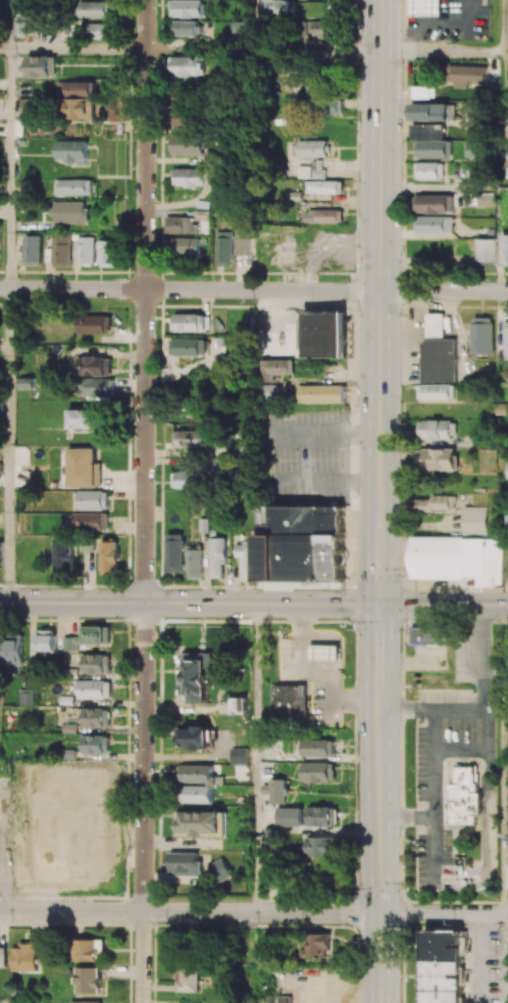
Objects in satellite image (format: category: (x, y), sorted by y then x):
building: (277, 7)
building: (191, 8)
building: (427, 8)
building: (96, 9)
building: (21, 20)
road: (10, 24)
road: (257, 26)
road: (502, 26)
building: (186, 28)
building: (99, 30)
building: (324, 31)
road: (5, 49)
road: (78, 49)
road: (202, 51)
road: (319, 52)
road: (505, 52)
road: (442, 53)
building: (41, 66)
building: (188, 66)
building: (468, 75)
building: (314, 87)
building: (423, 92)
building: (79, 98)
road: (503, 103)
building: (324, 106)
building: (28, 107)
building: (432, 111)
building: (187, 117)
street lamp: (356, 119)
building: (475, 120)
building: (427, 131)
building: (190, 144)
building: (311, 148)
building: (433, 149)
building: (474, 149)
building: (72, 152)
road: (10, 169)
building: (311, 170)
building: (429, 171)
building: (192, 177)
building: (74, 187)
building: (324, 187)
road: (437, 189)
street lamp: (400, 196)
building: (433, 203)
building: (71, 212)
building: (322, 216)
building: (181, 225)
building: (433, 225)
building: (0, 238)
street lamp: (357, 245)
building: (183, 246)
building: (241, 246)
building: (224, 248)
building: (505, 249)
building: (32, 250)
building: (85, 250)
building: (108, 253)
building: (60, 254)
building: (485, 254)
road: (381, 256)
road: (190, 290)
road: (444, 292)
street lamp: (311, 300)
road: (145, 301)
street lamp: (356, 311)
building: (191, 322)
building: (94, 324)
building: (322, 334)
building: (482, 335)
building: (506, 340)
building: (188, 347)
building: (438, 350)
building: (95, 366)
building: (273, 368)
building: (99, 388)
building: (268, 392)
building: (436, 392)
building: (320, 393)
street lamp: (400, 404)
building: (84, 419)
building: (435, 430)
building: (191, 439)
road: (10, 446)
parking lot: (307, 458)
building: (437, 458)
building: (83, 468)
building: (507, 477)
building: (184, 480)
street lamp: (356, 497)
building: (91, 500)
building: (433, 504)
building: (91, 521)
building: (473, 522)
building: (301, 543)
building: (1, 553)
building: (175, 553)
building: (63, 556)
building: (218, 556)
building: (109, 557)
building: (246, 559)
road: (378, 559)
building: (458, 559)
building: (195, 563)
street lamp: (403, 576)
street lamp: (327, 589)
street lamp: (494, 590)
road: (253, 604)
traffic signals: (378, 606)
street lamp: (266, 618)
street lamp: (350, 630)
street lamp: (284, 632)
street lamp: (402, 632)
building: (426, 636)
building: (88, 637)
building: (46, 641)
building: (13, 649)
building: (325, 654)
road: (378, 658)
building: (96, 664)
building: (200, 675)
building: (93, 689)
building: (26, 697)
building: (239, 705)
building: (287, 705)
road: (433, 710)
street lamp: (341, 715)
building: (96, 718)
building: (193, 738)
street lamp: (356, 740)
building: (95, 744)
building: (318, 747)
building: (239, 756)
road: (255, 759)
road: (501, 760)
road: (434, 764)
street lamp: (412, 768)
building: (317, 772)
building: (194, 773)
building: (85, 786)
building: (275, 791)
building: (196, 794)
building: (465, 796)
road: (144, 803)
building: (322, 816)
building: (289, 817)
building: (203, 823)
road: (489, 829)
street lamp: (399, 838)
building: (320, 846)
road: (379, 856)
traffic signals: (380, 859)
building: (185, 864)
building: (221, 870)
building: (270, 877)
building: (507, 877)
street lamp: (349, 891)
road: (190, 912)
road: (444, 914)
street lamp: (406, 925)
traffic signals: (380, 939)
street lamp: (357, 943)
building: (318, 946)
building: (88, 950)
building: (3, 955)
building: (25, 957)
road: (501, 959)
building: (443, 966)
building: (189, 979)
building: (88, 980)
building: (283, 999)
building: (86, 1002)

